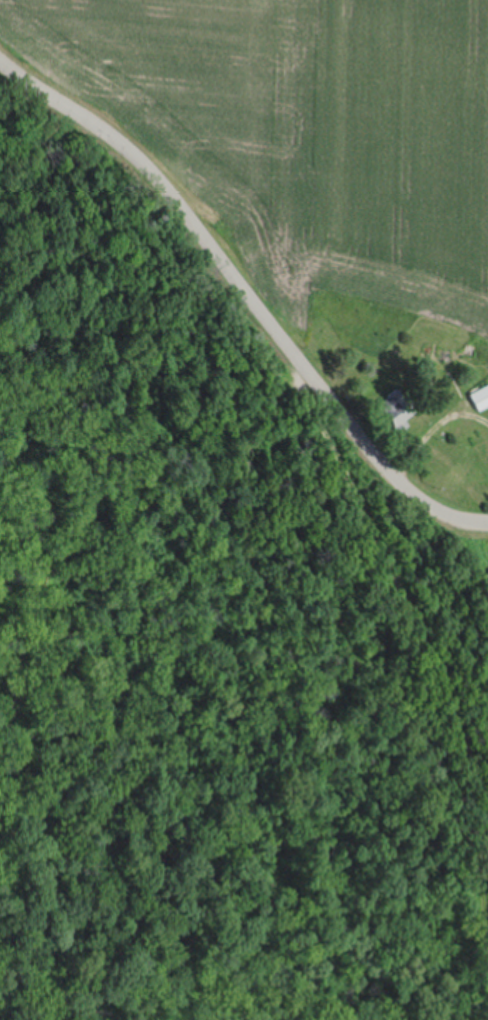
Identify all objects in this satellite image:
road: (247, 293)
road: (436, 671)

